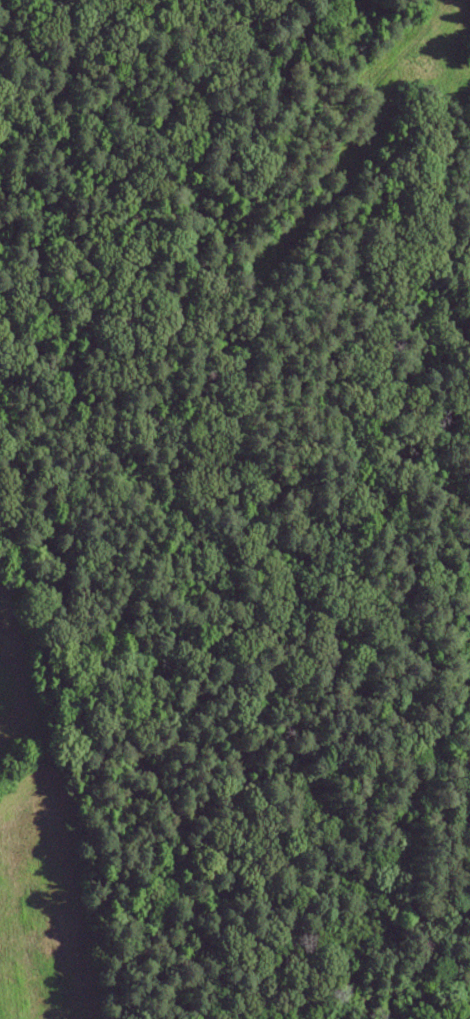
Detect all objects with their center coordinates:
park: (439, 889)

